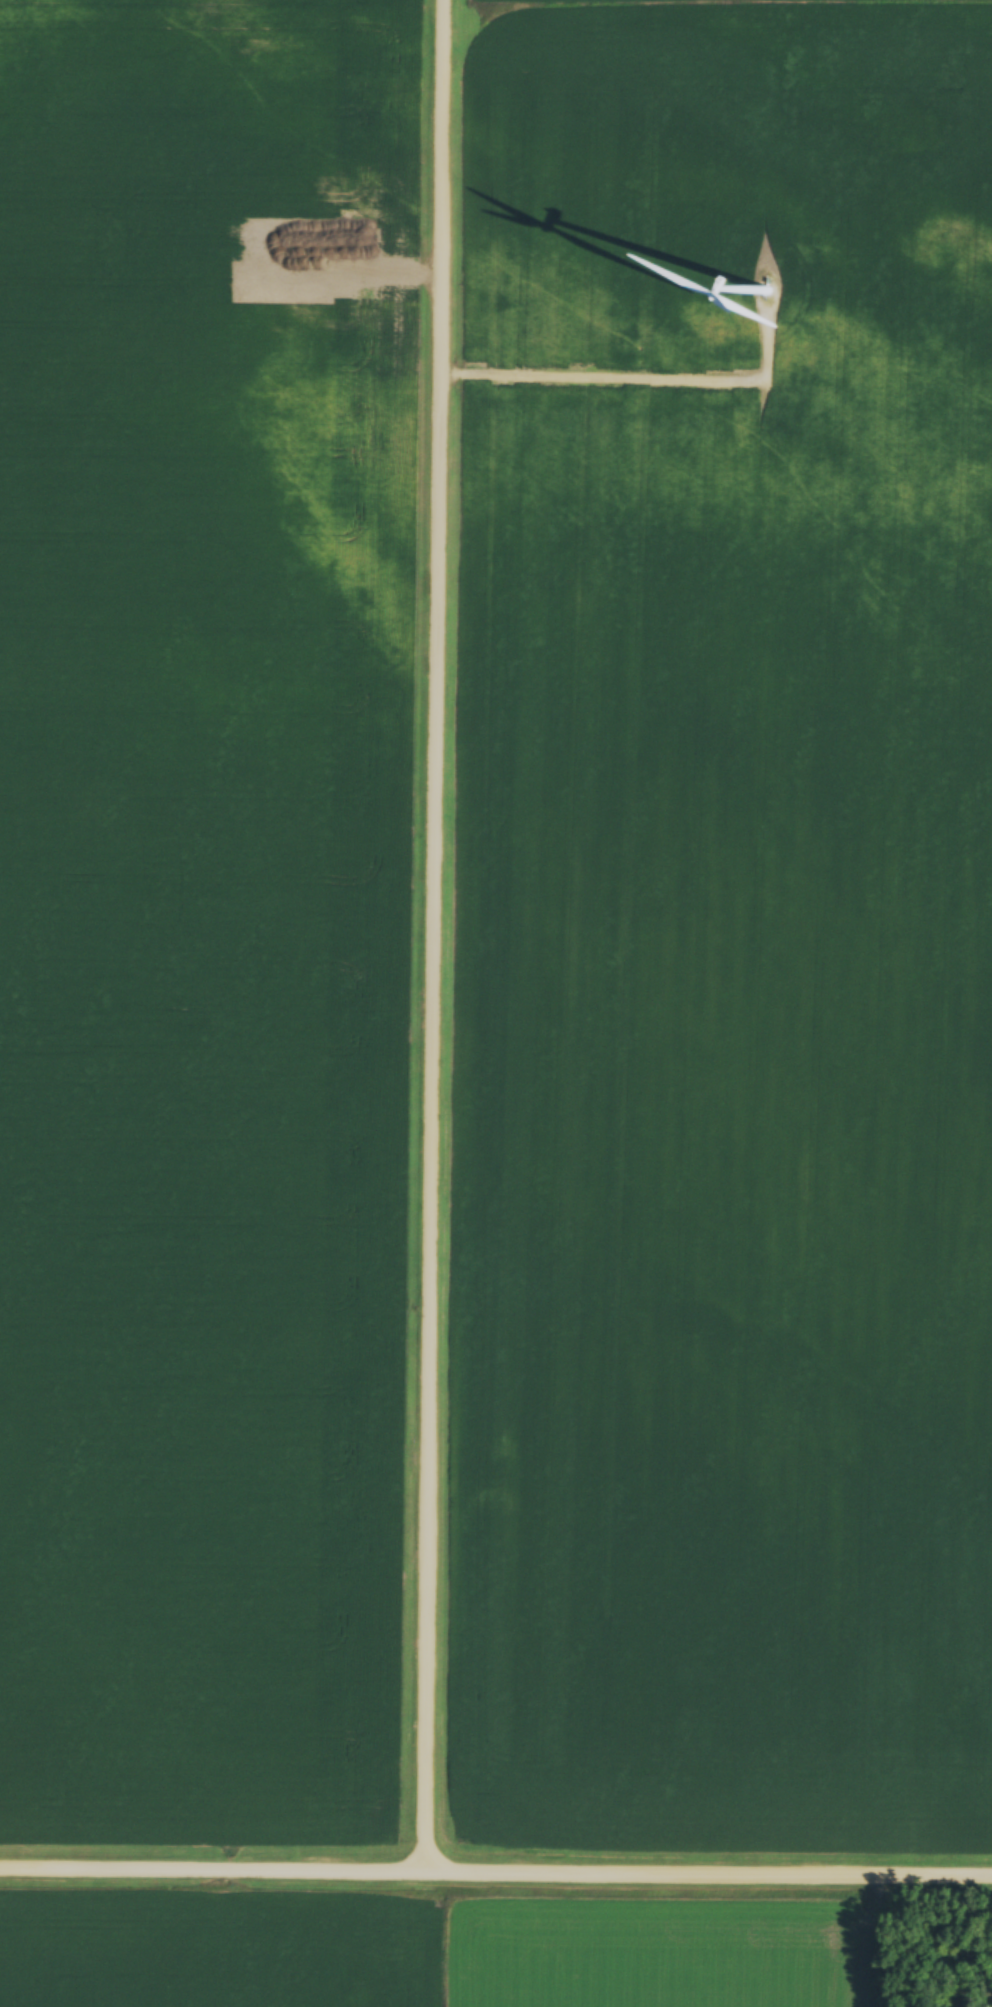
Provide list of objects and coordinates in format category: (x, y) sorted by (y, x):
wind turbine: (772, 283)
road: (436, 937)
road: (273, 1762)
road: (495, 1875)

